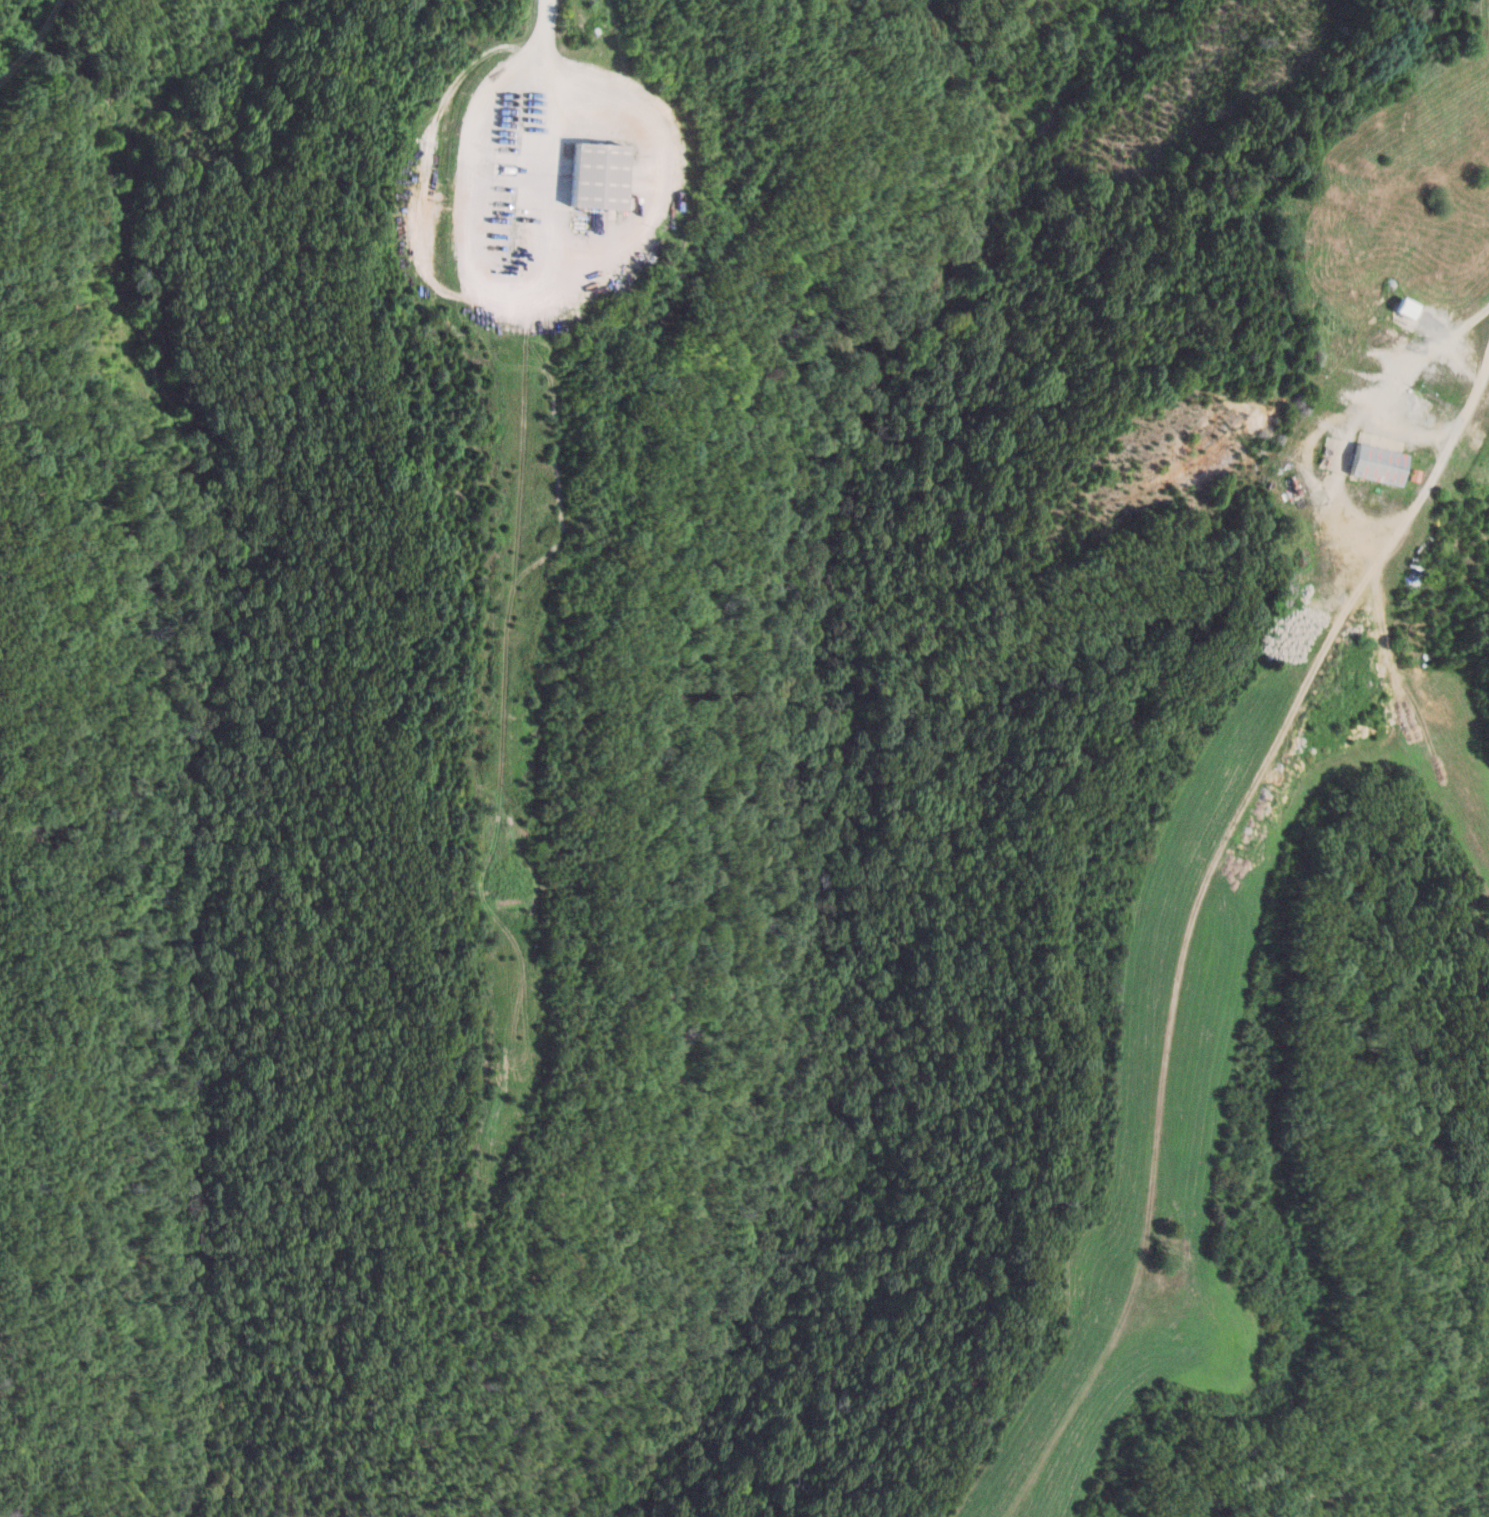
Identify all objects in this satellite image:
road: (542, 89)
building: (598, 175)
building: (1407, 307)
road: (1325, 420)
building: (1380, 464)
road: (1250, 822)

